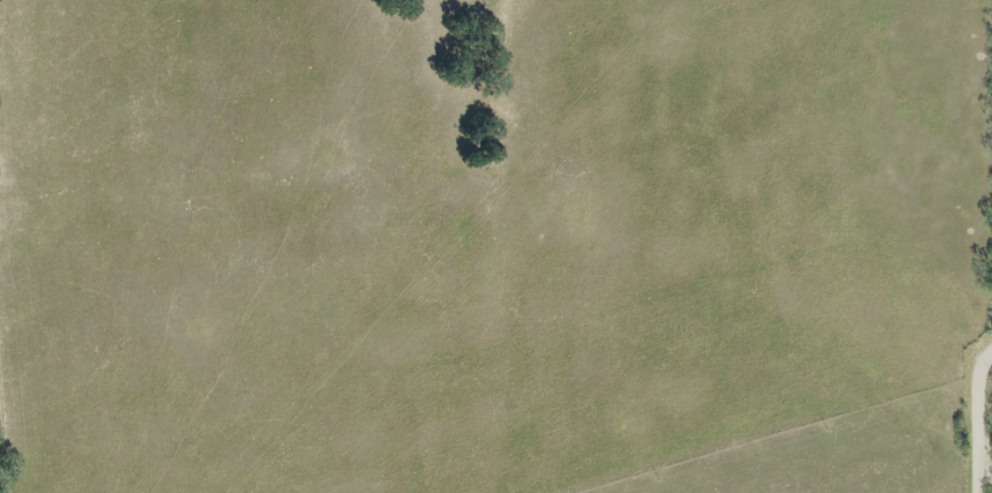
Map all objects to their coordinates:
road: (973, 416)

